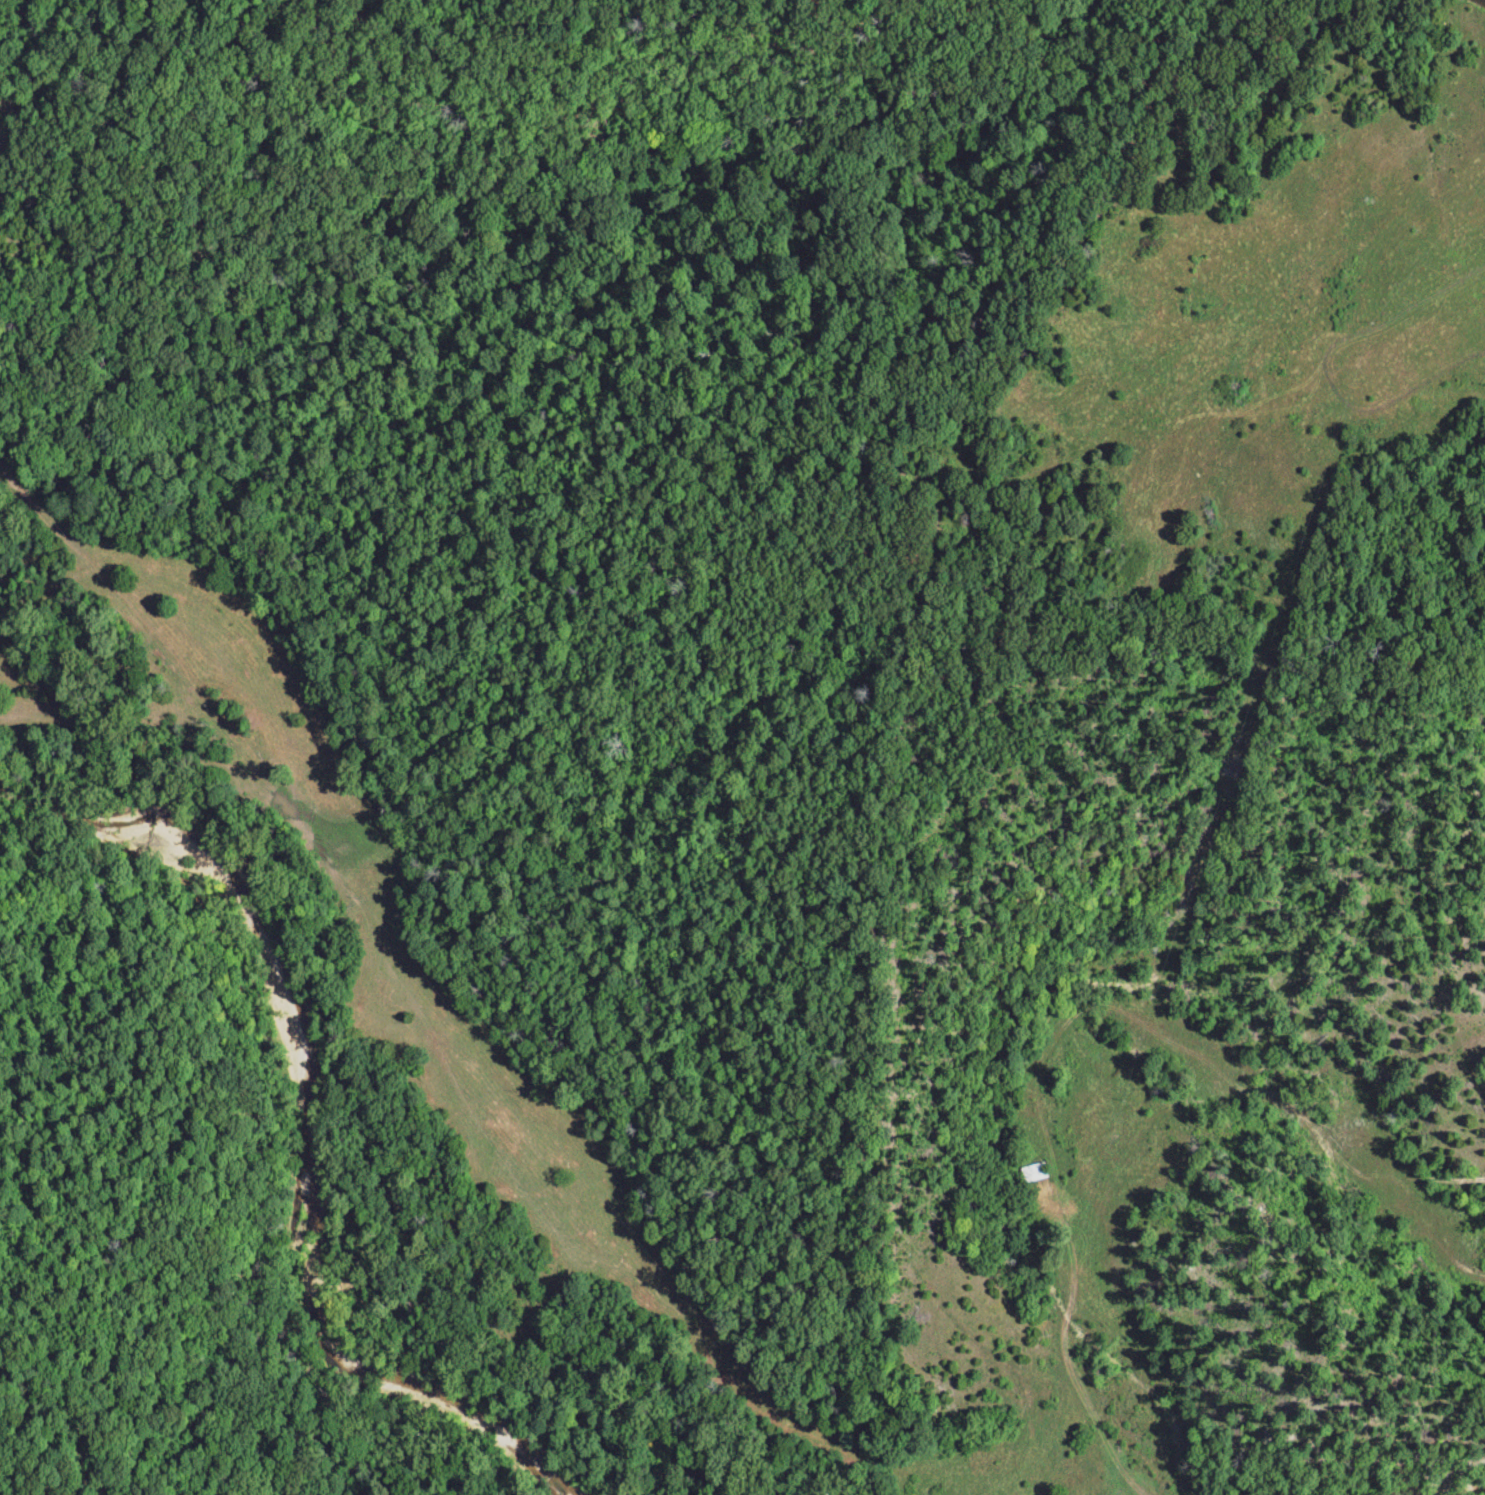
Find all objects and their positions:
road: (27, 34)

